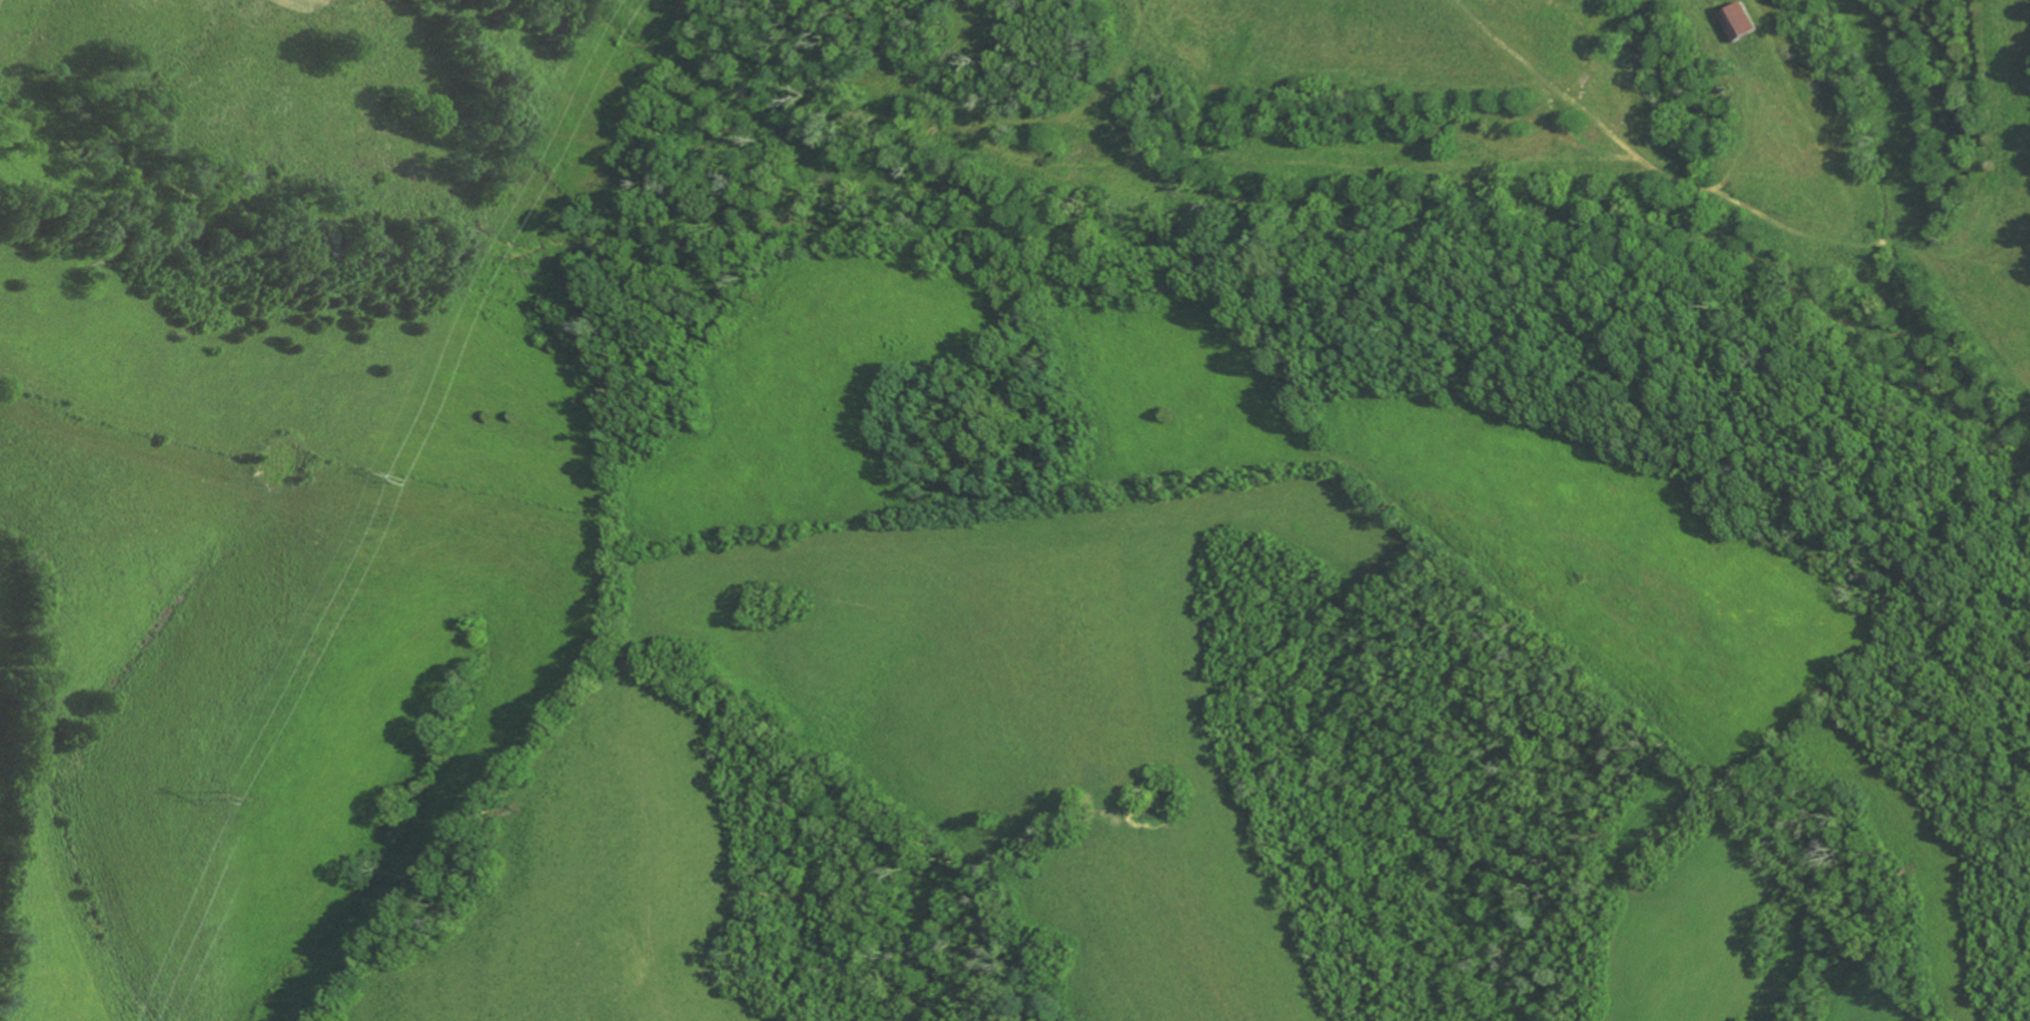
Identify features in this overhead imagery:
building: (1746, 21)
power tower: (408, 475)
power tower: (244, 794)

